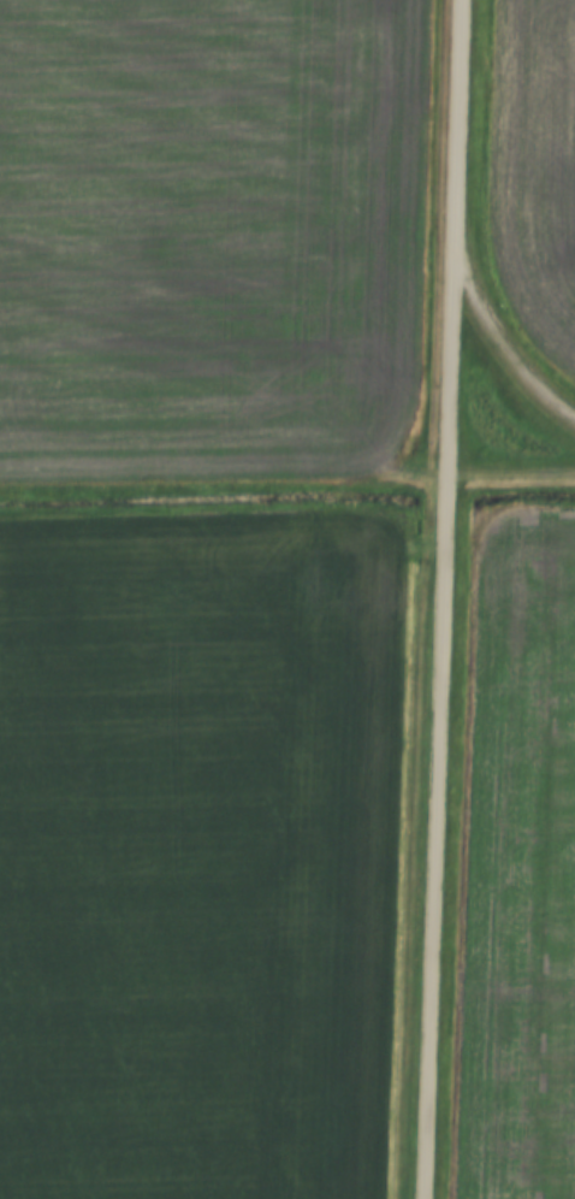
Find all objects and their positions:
crop: (539, 167)
crop: (212, 235)
road: (509, 349)
road: (224, 483)
road: (444, 599)
crop: (200, 857)
crop: (518, 868)

